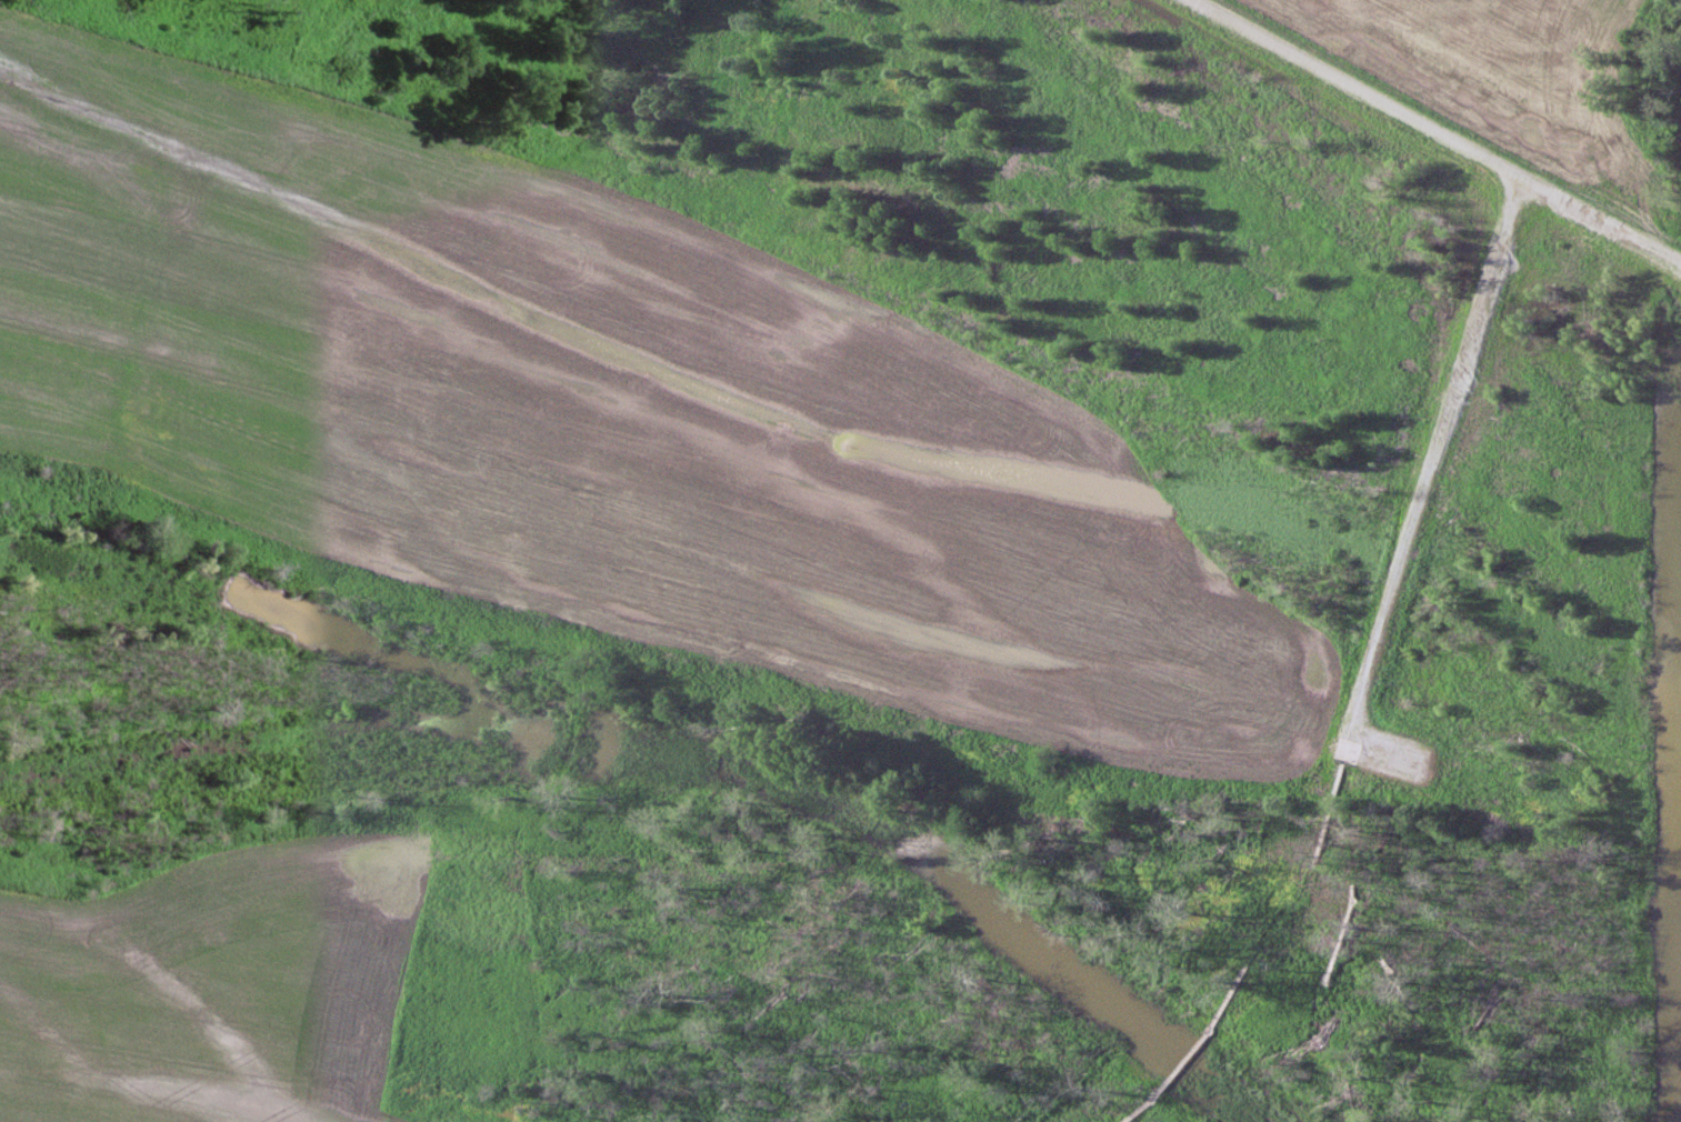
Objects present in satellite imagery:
road: (1437, 130)

